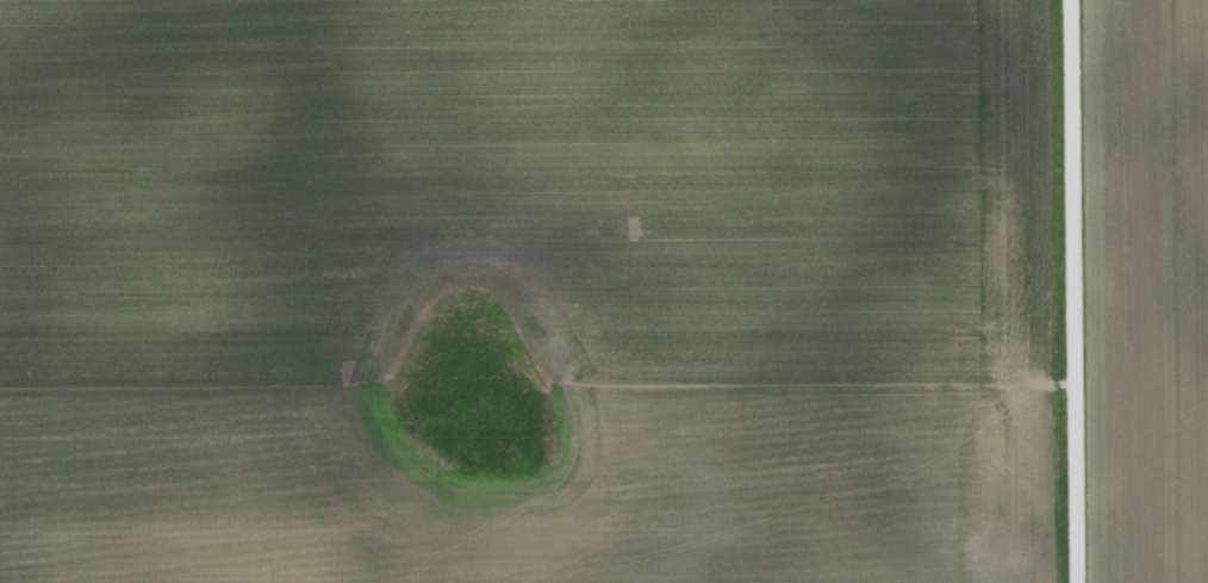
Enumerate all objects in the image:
road: (1075, 291)

